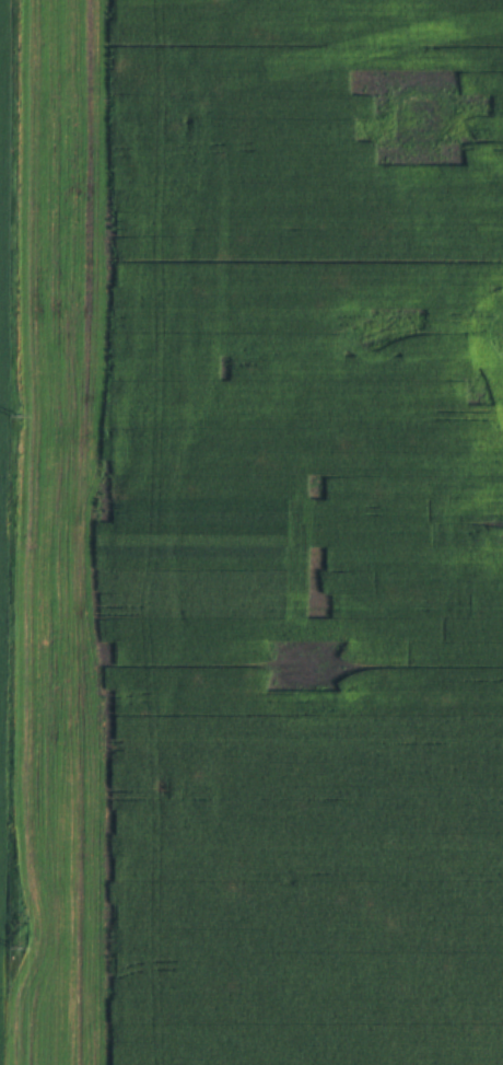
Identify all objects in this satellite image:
power tower: (11, 415)
power tower: (11, 948)

